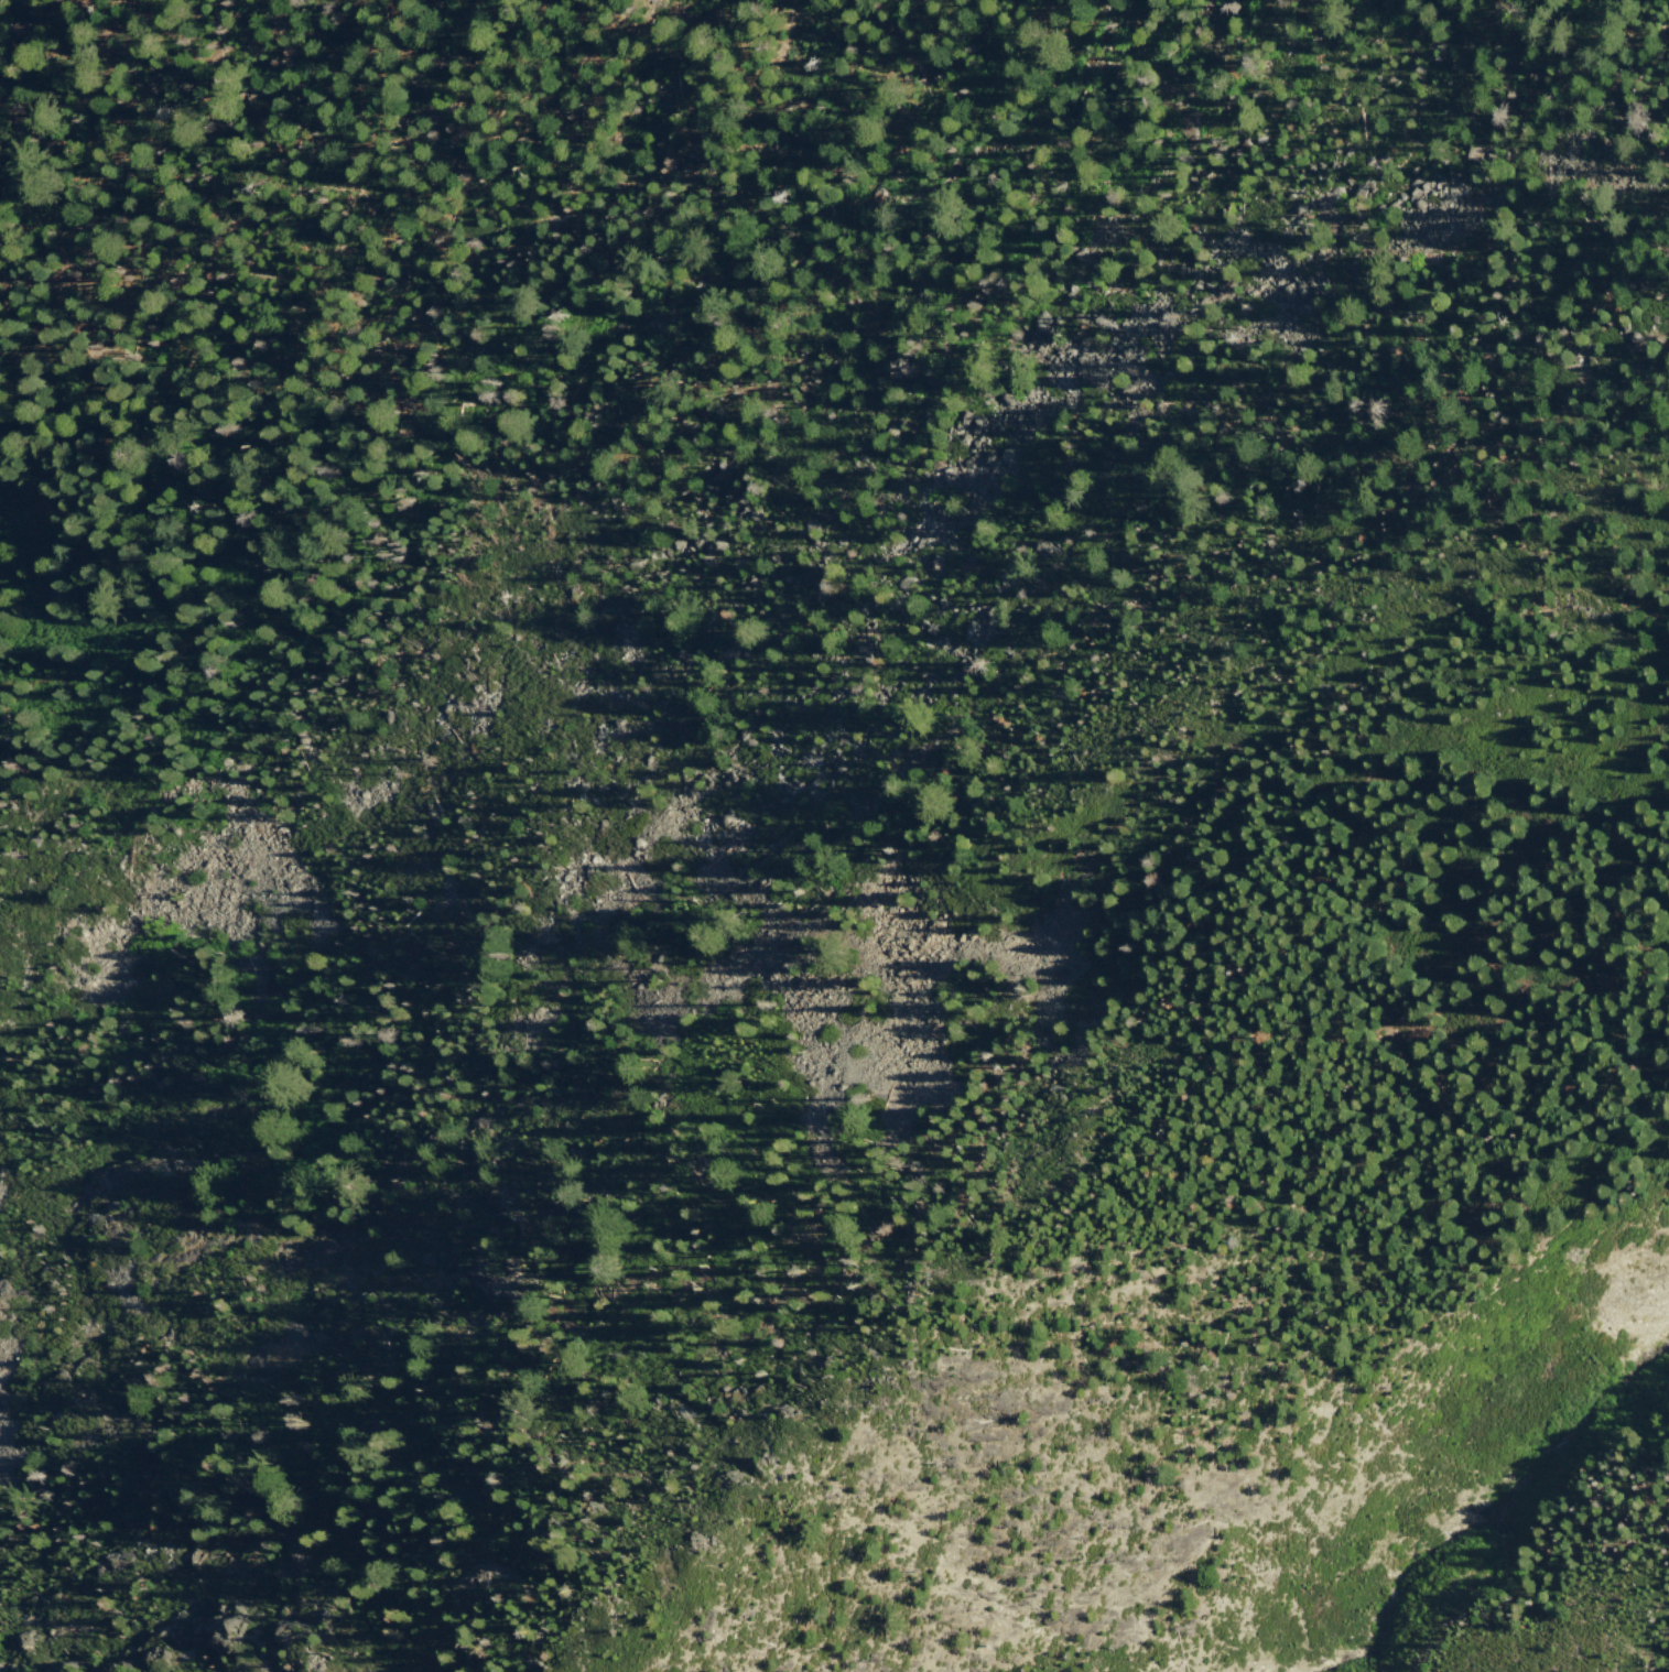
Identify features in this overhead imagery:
road: (527, 227)

